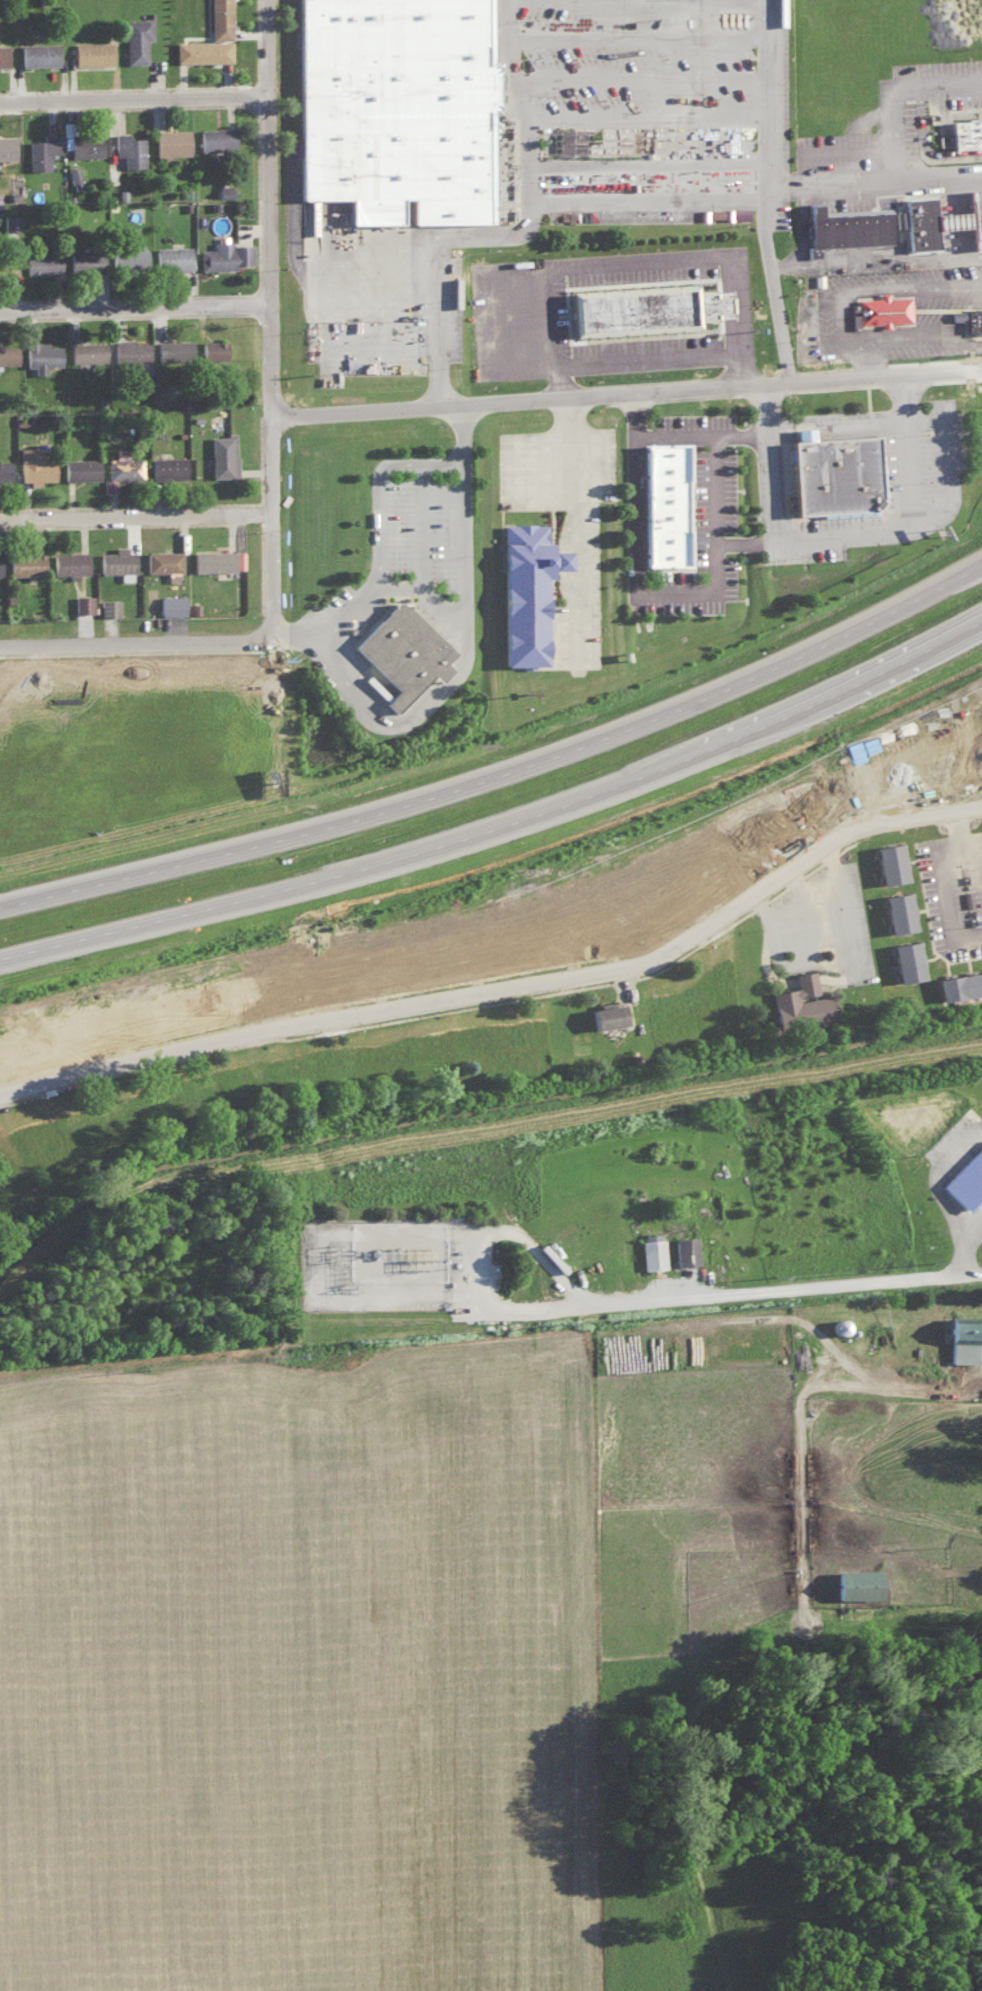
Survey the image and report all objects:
road: (620, 2)
building: (219, 18)
building: (136, 38)
road: (642, 41)
building: (202, 50)
road: (278, 51)
building: (92, 52)
building: (38, 53)
building: (3, 54)
road: (647, 83)
road: (906, 99)
road: (139, 104)
building: (410, 106)
parking lot: (649, 108)
road: (652, 122)
building: (972, 133)
building: (216, 137)
building: (169, 142)
building: (84, 143)
building: (6, 146)
road: (932, 146)
building: (128, 148)
building: (40, 150)
road: (860, 156)
building: (74, 176)
road: (767, 191)
road: (655, 198)
gas station: (966, 218)
building: (8, 221)
road: (816, 225)
building: (931, 225)
gas station: (931, 225)
building: (845, 226)
building: (127, 254)
building: (224, 254)
building: (171, 257)
building: (83, 259)
road: (876, 260)
building: (41, 261)
road: (436, 262)
building: (7, 263)
road: (601, 268)
road: (335, 273)
building: (636, 306)
road: (739, 308)
building: (882, 308)
road: (139, 310)
building: (968, 317)
road: (855, 320)
building: (173, 348)
building: (212, 348)
building: (85, 350)
building: (129, 350)
building: (7, 353)
building: (40, 354)
road: (879, 359)
road: (655, 364)
road: (280, 365)
road: (778, 380)
road: (607, 391)
road: (426, 404)
road: (841, 429)
road: (474, 432)
road: (746, 439)
building: (222, 454)
building: (33, 465)
road: (427, 465)
building: (167, 466)
building: (80, 468)
building: (121, 468)
building: (849, 469)
building: (4, 470)
building: (679, 505)
road: (140, 519)
road: (431, 527)
road: (589, 527)
road: (476, 530)
road: (390, 536)
road: (848, 537)
road: (755, 545)
building: (212, 559)
building: (162, 560)
road: (577, 560)
building: (25, 561)
building: (117, 561)
building: (69, 562)
building: (542, 592)
road: (702, 593)
road: (439, 594)
building: (82, 602)
building: (171, 604)
building: (108, 606)
road: (365, 610)
road: (310, 637)
road: (144, 650)
building: (402, 650)
road: (421, 715)
building: (977, 725)
road: (561, 731)
road: (974, 738)
road: (561, 763)
road: (531, 825)
road: (967, 827)
road: (517, 861)
road: (59, 890)
road: (952, 890)
road: (814, 904)
building: (897, 912)
road: (29, 948)
building: (905, 960)
road: (622, 965)
road: (633, 981)
building: (958, 984)
building: (817, 1001)
building: (622, 1015)
road: (113, 1061)
road: (934, 1174)
building: (964, 1180)
road: (973, 1225)
building: (652, 1250)
building: (684, 1250)
road: (963, 1252)
power substation: (379, 1265)
road: (789, 1286)
road: (493, 1303)
building: (327, 1304)
building: (838, 1326)
building: (964, 1339)
building: (855, 1582)

